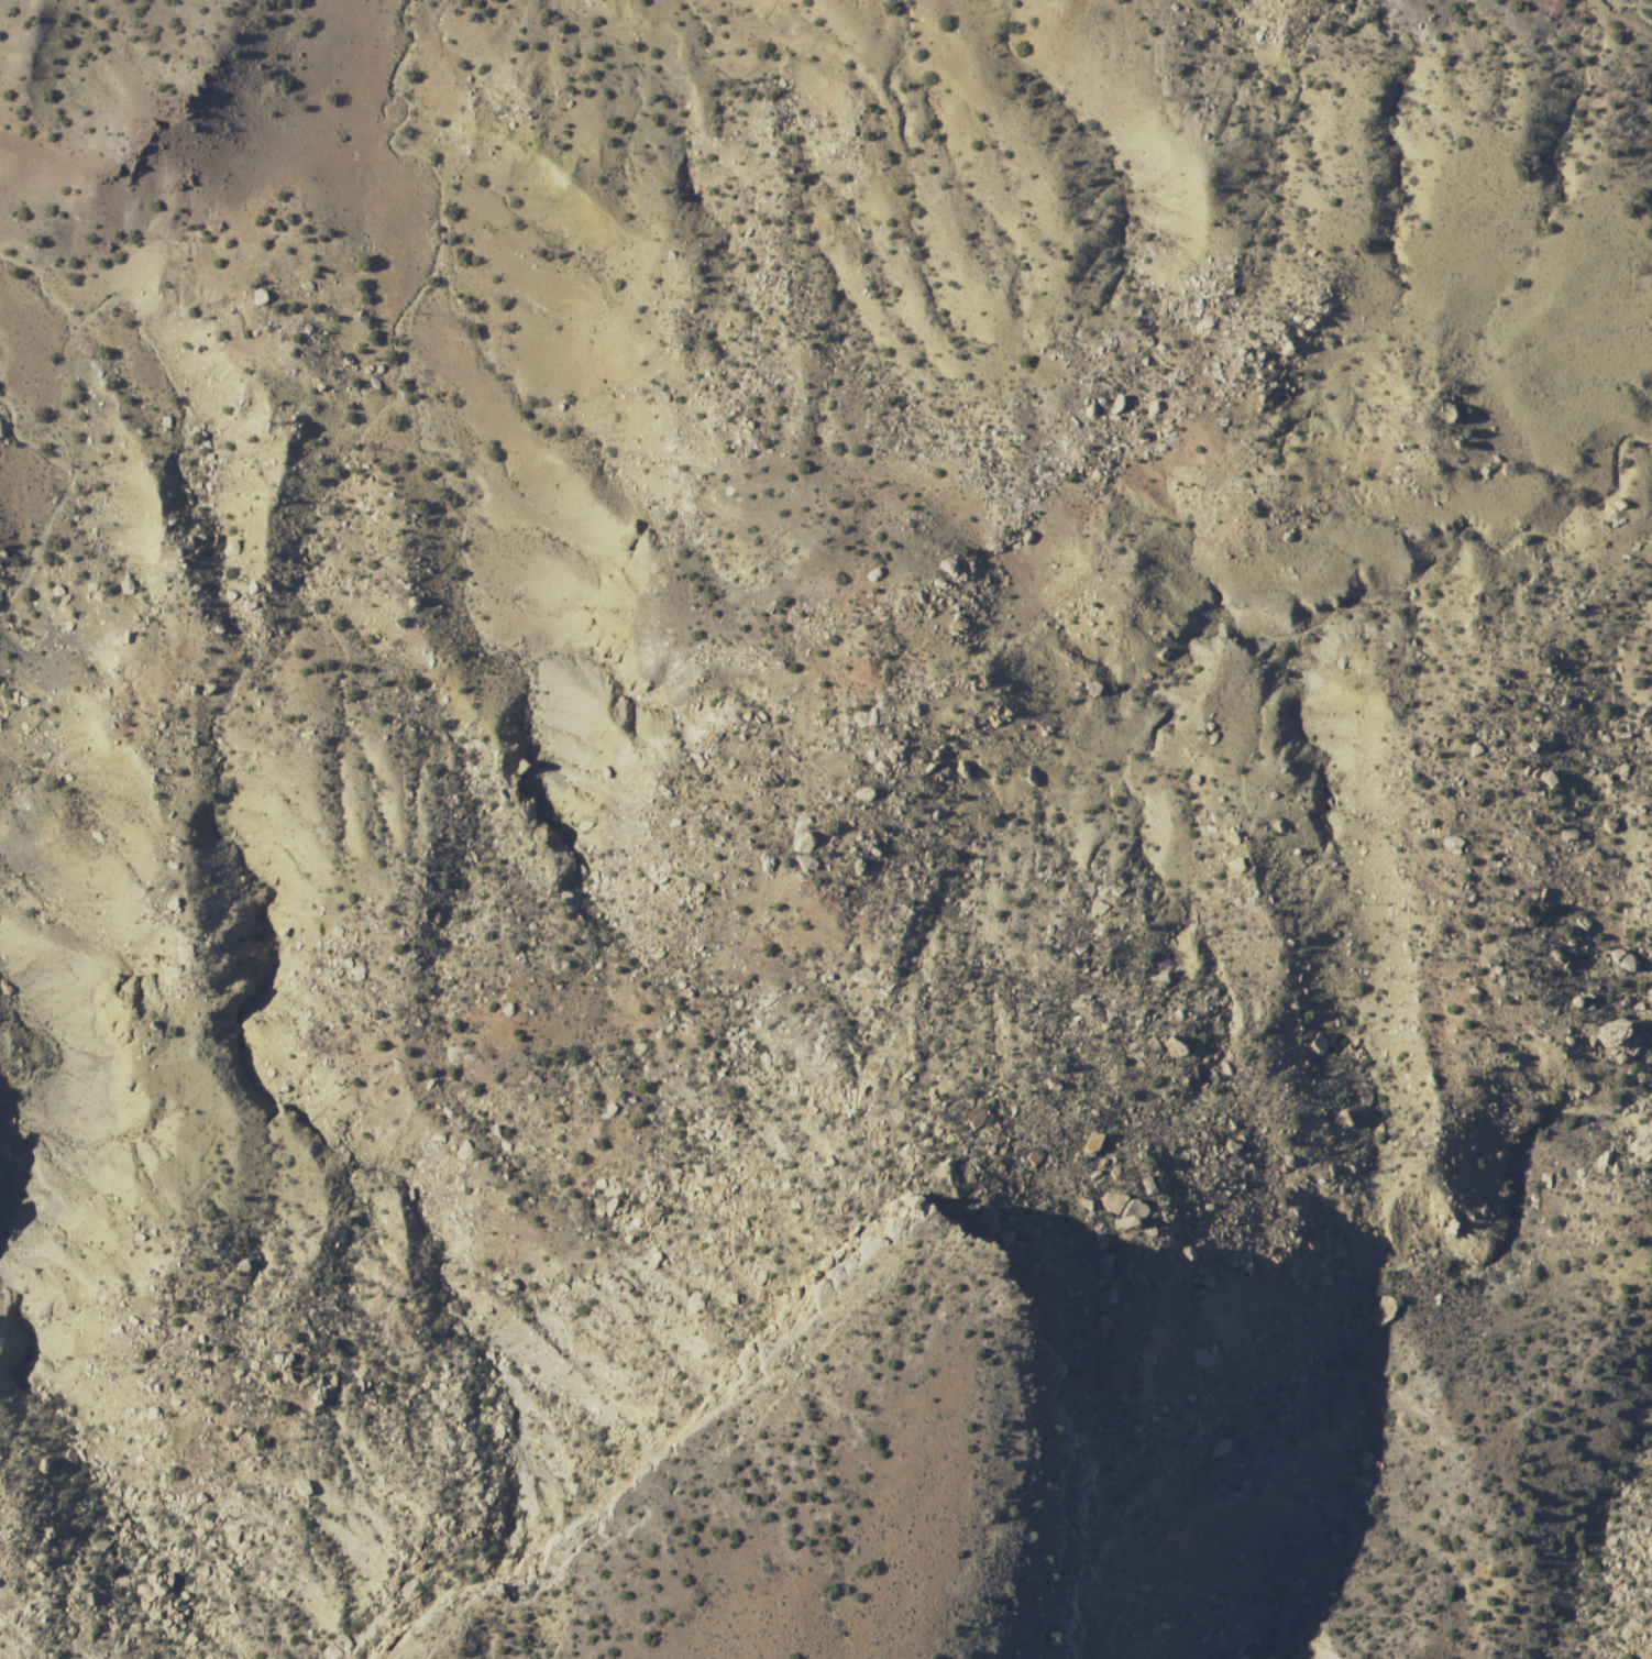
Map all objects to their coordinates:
building: (1116, 1375)

